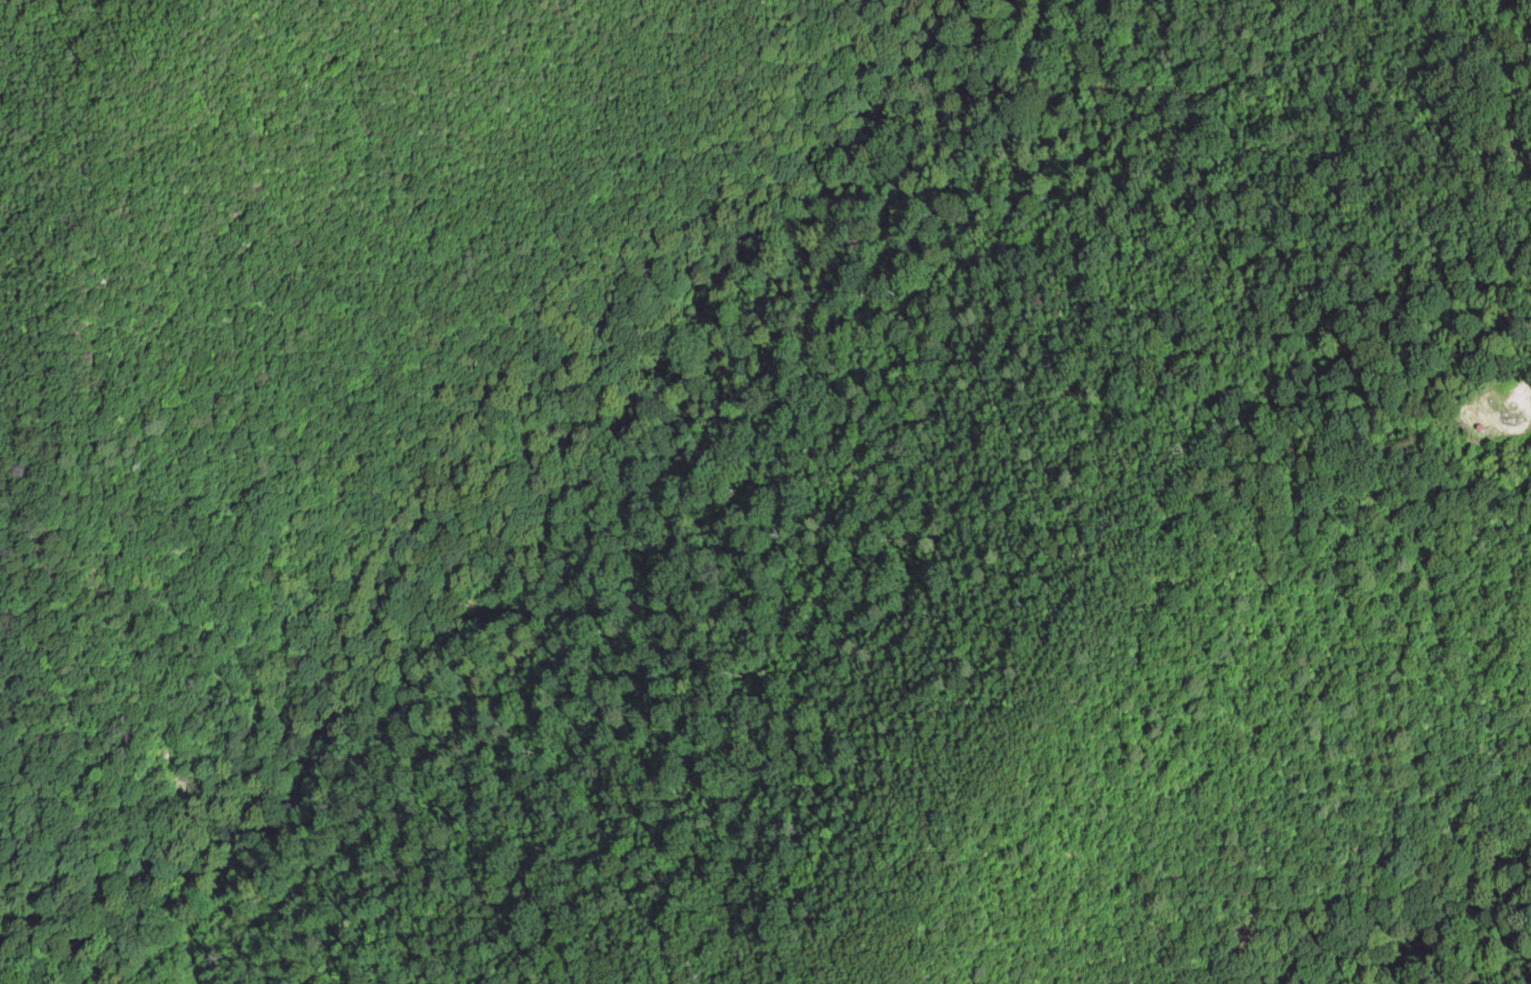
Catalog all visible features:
road: (1522, 381)

